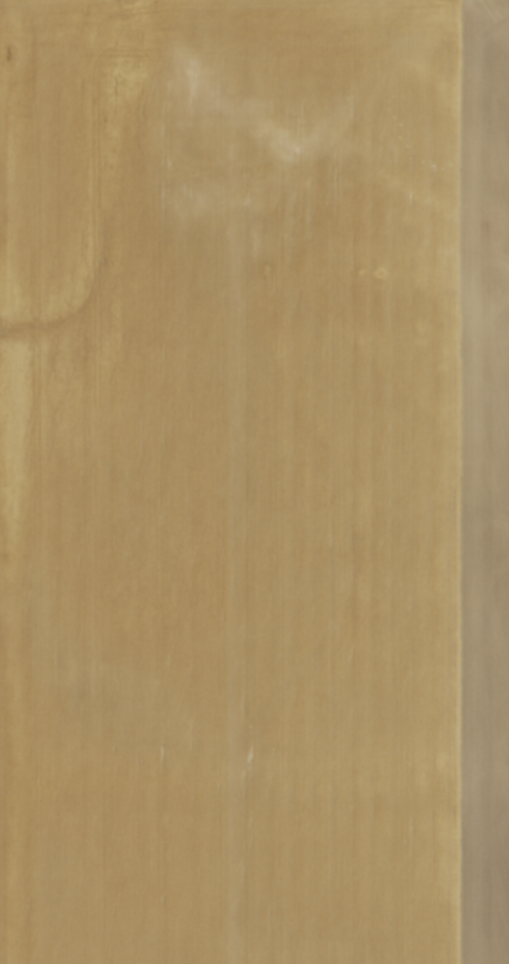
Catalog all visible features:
crop: (254, 482)

